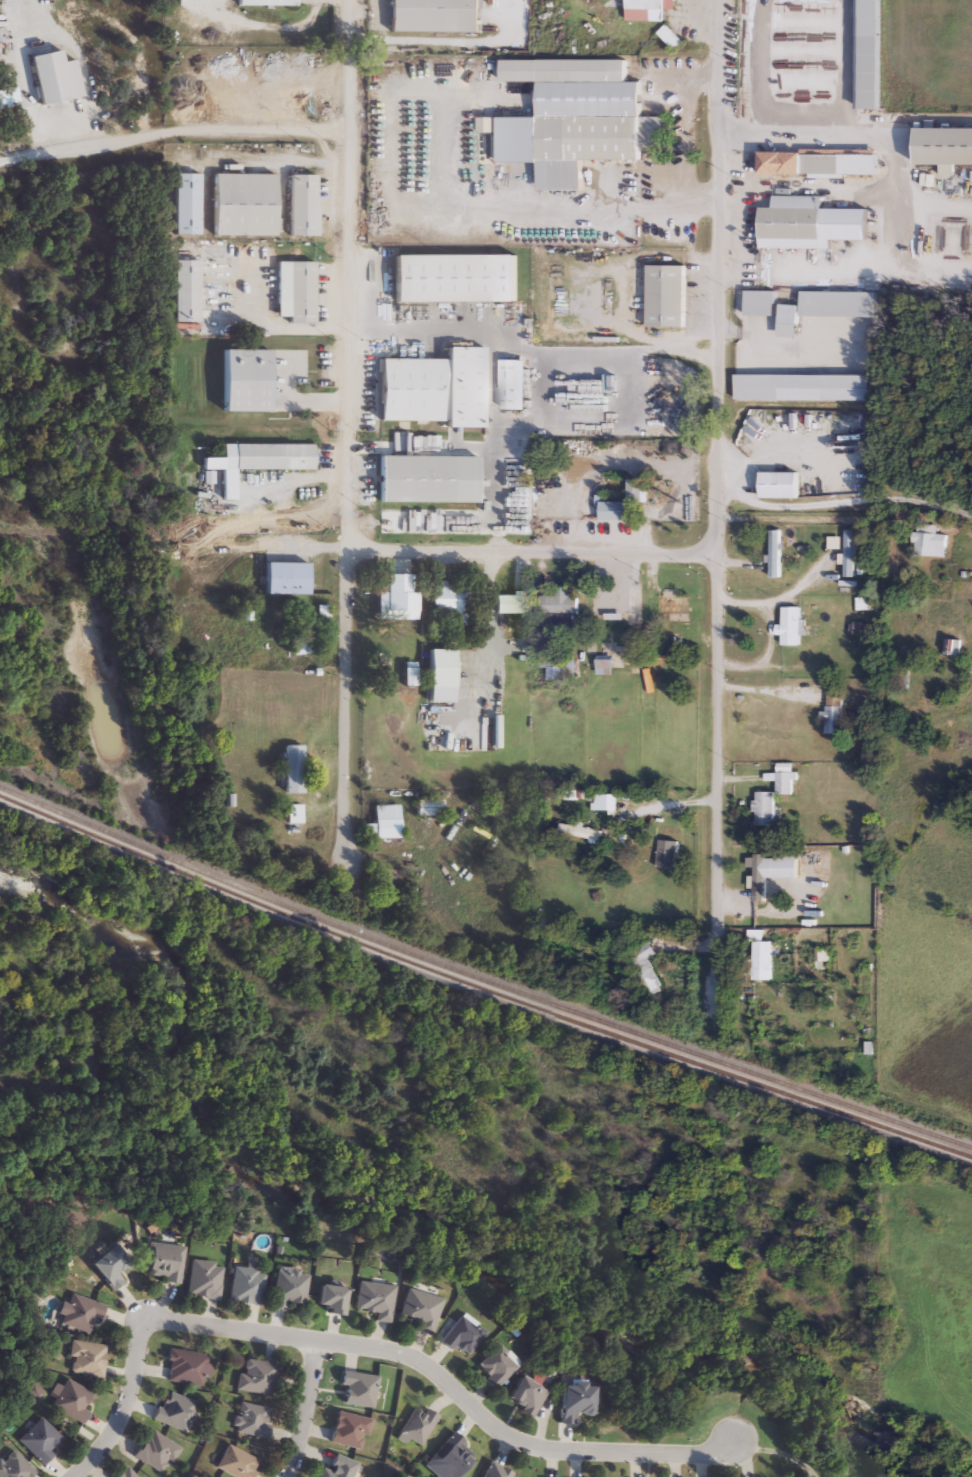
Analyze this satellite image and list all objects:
building: (261, 3)
building: (642, 8)
building: (429, 16)
building: (666, 38)
building: (862, 55)
road: (764, 66)
building: (48, 79)
road: (842, 103)
building: (566, 119)
road: (170, 126)
road: (741, 132)
road: (678, 138)
building: (940, 147)
road: (270, 158)
building: (814, 164)
road: (395, 204)
building: (182, 205)
building: (239, 206)
building: (297, 206)
building: (787, 224)
building: (450, 279)
building: (290, 292)
building: (179, 293)
building: (660, 297)
building: (755, 304)
building: (821, 309)
road: (258, 327)
building: (235, 382)
building: (507, 386)
building: (797, 389)
building: (429, 390)
road: (291, 402)
road: (343, 430)
building: (261, 458)
building: (421, 481)
building: (774, 486)
road: (715, 490)
road: (841, 501)
building: (619, 506)
building: (926, 545)
road: (531, 551)
building: (845, 554)
building: (772, 555)
building: (278, 580)
road: (778, 598)
building: (441, 603)
building: (506, 603)
building: (555, 603)
building: (670, 606)
building: (605, 607)
building: (397, 616)
building: (786, 627)
road: (484, 633)
building: (294, 640)
building: (556, 668)
building: (601, 668)
building: (433, 678)
road: (768, 688)
building: (830, 715)
building: (286, 769)
building: (781, 780)
building: (601, 802)
building: (422, 808)
building: (760, 809)
building: (288, 813)
building: (378, 821)
building: (662, 853)
building: (756, 878)
building: (756, 957)
building: (641, 970)
railway: (481, 980)
railway: (481, 989)
building: (159, 1262)
building: (103, 1267)
building: (199, 1279)
building: (240, 1286)
building: (284, 1288)
building: (323, 1300)
building: (369, 1300)
building: (415, 1310)
building: (76, 1313)
building: (457, 1336)
building: (82, 1360)
building: (493, 1367)
building: (183, 1369)
building: (255, 1377)
road: (446, 1382)
building: (355, 1389)
building: (519, 1396)
building: (65, 1401)
building: (567, 1403)
road: (122, 1408)
road: (304, 1409)
building: (171, 1412)
building: (249, 1422)
building: (417, 1425)
building: (345, 1430)
building: (35, 1441)
building: (153, 1452)
building: (452, 1458)
building: (233, 1464)
building: (11, 1466)
building: (336, 1468)
building: (122, 1473)

